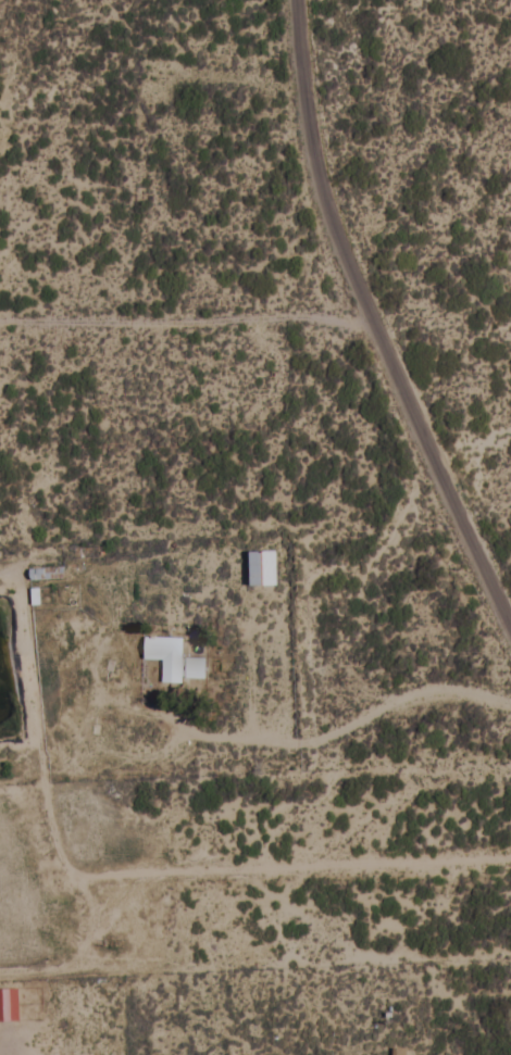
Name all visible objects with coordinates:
road: (163, 23)
road: (360, 322)
building: (264, 569)
building: (40, 575)
building: (166, 658)
building: (9, 1006)

